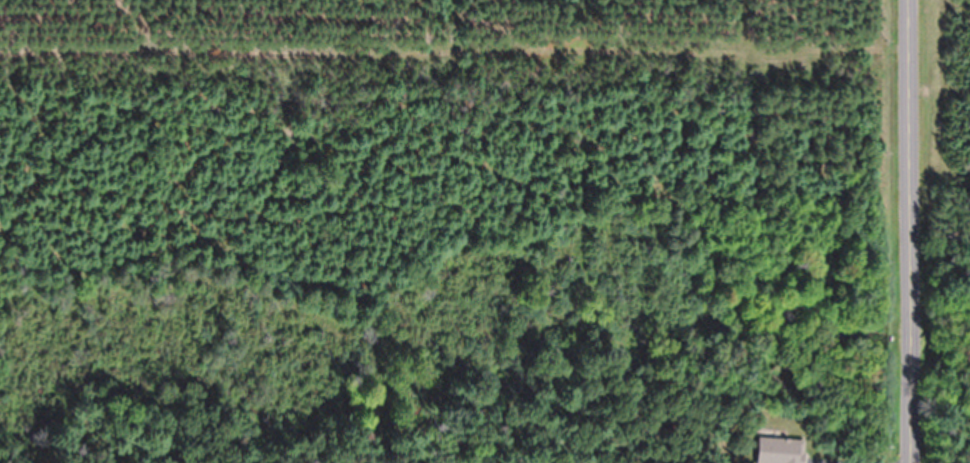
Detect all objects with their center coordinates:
road: (910, 231)
building: (779, 451)

